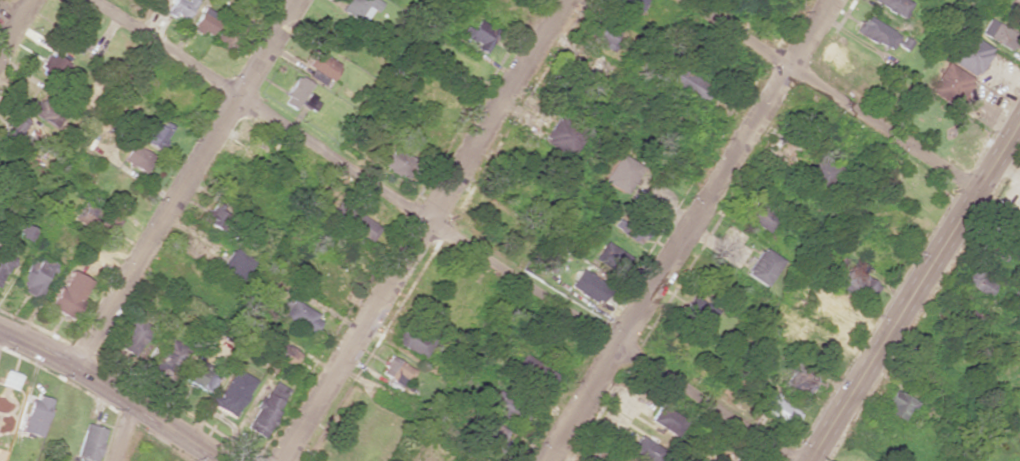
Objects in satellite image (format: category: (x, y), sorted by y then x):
building: (623, 3)
park: (3, 6)
building: (895, 6)
building: (179, 8)
building: (361, 8)
road: (11, 16)
building: (204, 20)
road: (18, 30)
building: (602, 31)
building: (877, 32)
building: (479, 34)
building: (999, 34)
building: (224, 37)
building: (967, 53)
building: (58, 63)
building: (322, 67)
building: (683, 79)
building: (948, 84)
building: (295, 92)
road: (830, 94)
building: (310, 102)
building: (47, 111)
building: (14, 129)
building: (156, 134)
building: (563, 134)
building: (137, 157)
building: (398, 160)
building: (621, 173)
road: (183, 184)
building: (219, 216)
building: (761, 216)
building: (95, 221)
building: (357, 223)
road: (444, 230)
road: (690, 230)
road: (428, 232)
building: (636, 232)
building: (611, 257)
building: (4, 263)
building: (233, 265)
building: (762, 266)
building: (34, 274)
building: (976, 282)
building: (858, 284)
building: (590, 286)
road: (914, 286)
building: (68, 293)
building: (826, 302)
building: (700, 310)
building: (297, 314)
building: (777, 319)
building: (135, 332)
building: (414, 341)
building: (279, 353)
building: (170, 357)
building: (395, 370)
building: (534, 370)
building: (198, 374)
building: (232, 392)
road: (109, 395)
building: (498, 401)
building: (899, 404)
building: (266, 408)
building: (782, 411)
building: (34, 415)
building: (665, 420)
building: (491, 434)
road: (120, 435)
building: (89, 442)
building: (643, 449)

